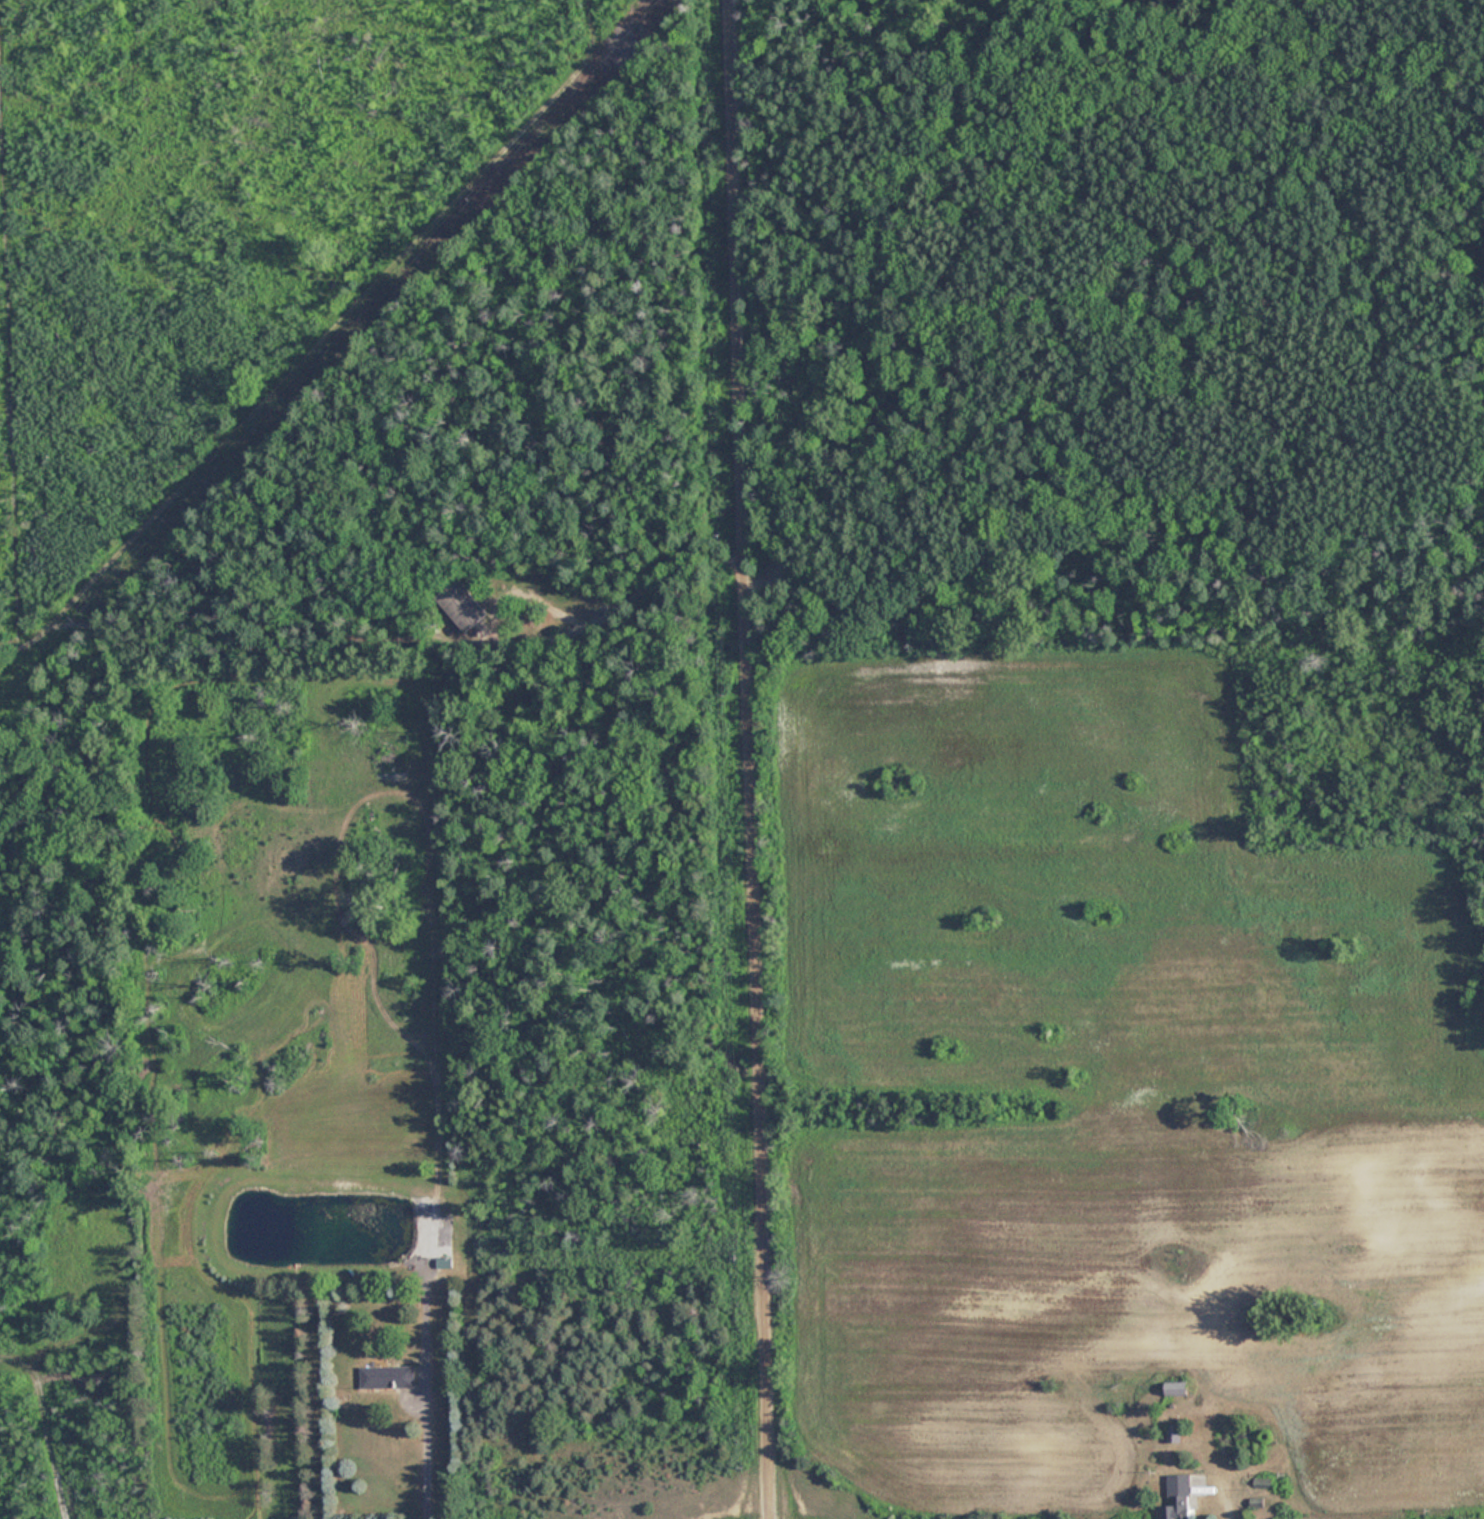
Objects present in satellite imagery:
park: (1105, 312)
building: (462, 605)
road: (750, 759)
building: (444, 1261)
building: (387, 1378)
building: (1175, 1433)
road: (422, 1457)
building: (1179, 1497)

